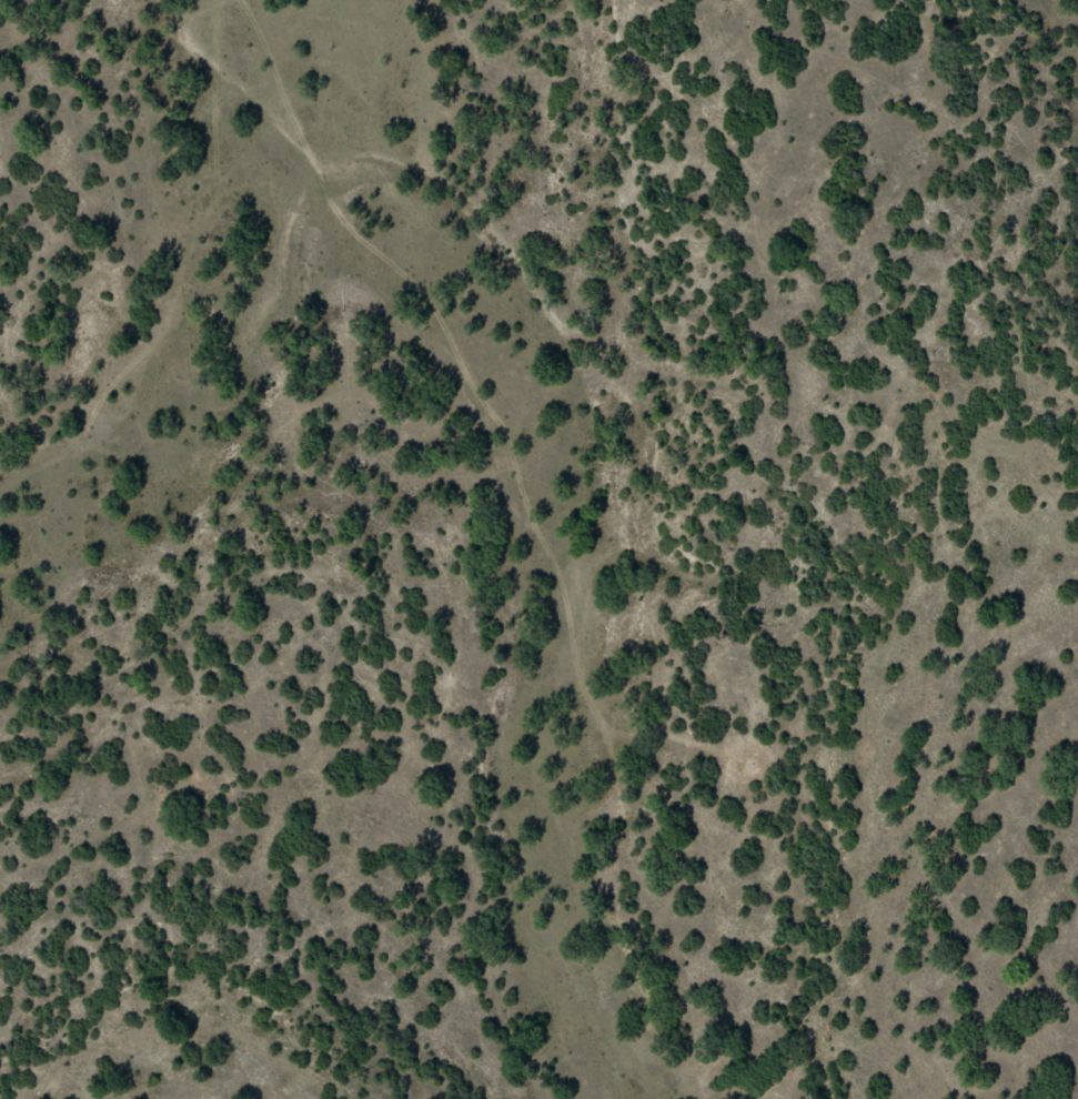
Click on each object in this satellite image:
road: (522, 409)

